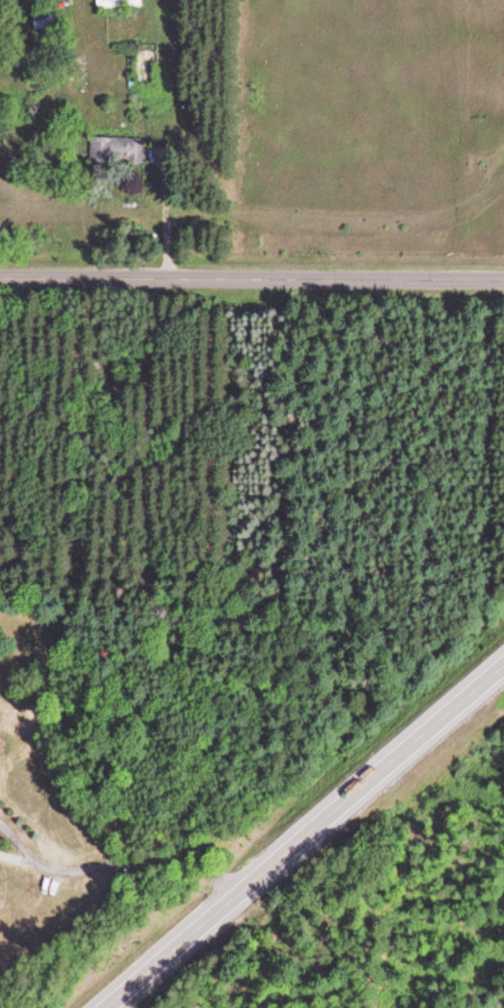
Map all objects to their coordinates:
building: (113, 4)
building: (115, 152)
road: (252, 278)
road: (304, 836)

